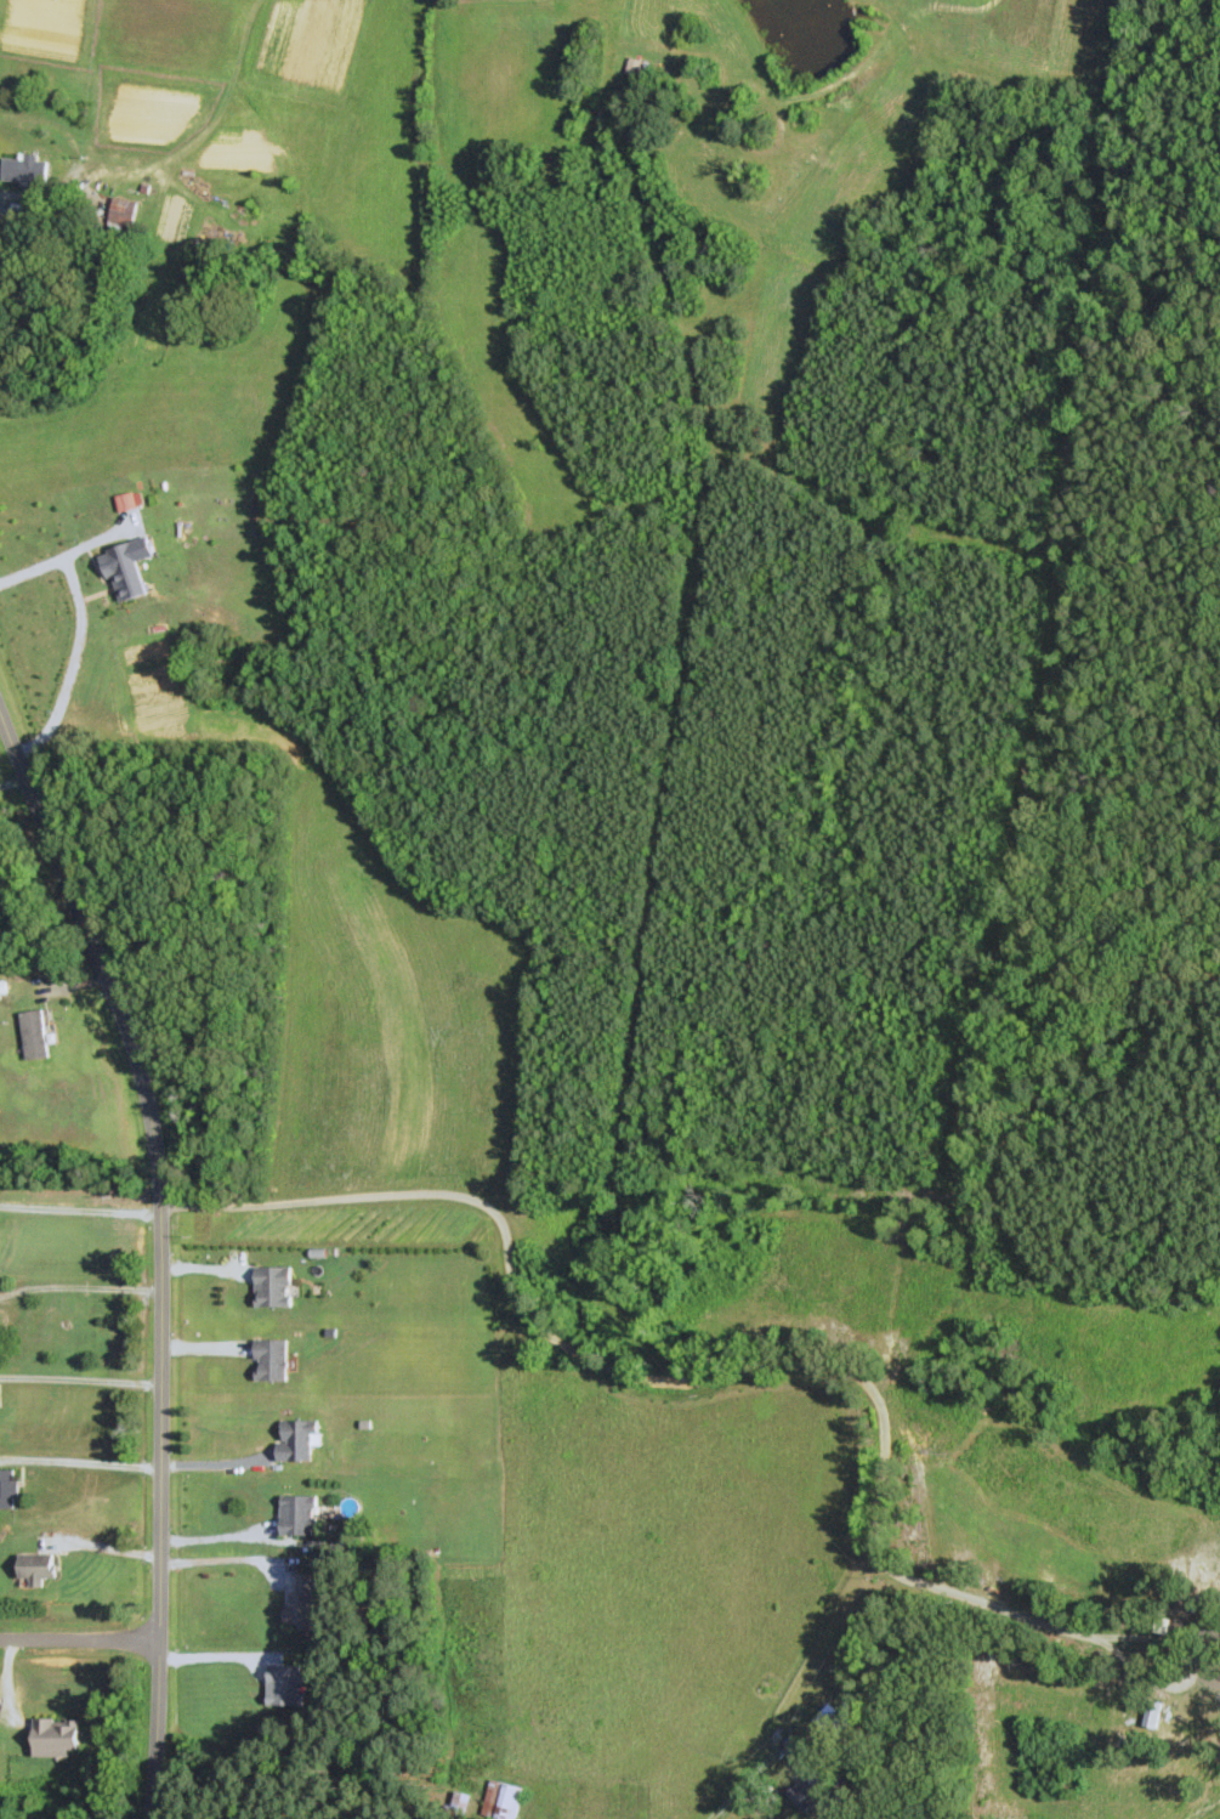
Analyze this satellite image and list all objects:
building: (635, 66)
building: (25, 169)
building: (121, 215)
road: (67, 555)
road: (73, 663)
building: (13, 918)
building: (35, 1035)
road: (80, 1207)
road: (160, 1248)
road: (80, 1285)
building: (274, 1286)
building: (272, 1360)
road: (781, 1361)
road: (80, 1377)
building: (297, 1440)
road: (80, 1462)
building: (8, 1489)
building: (300, 1515)
road: (221, 1566)
building: (38, 1568)
building: (1169, 1592)
building: (1193, 1602)
building: (302, 1603)
building: (1161, 1623)
building: (1208, 1628)
road: (80, 1637)
building: (285, 1684)
building: (1152, 1713)
building: (57, 1736)
road: (750, 1779)
building: (808, 1793)
building: (505, 1800)
building: (465, 1801)

